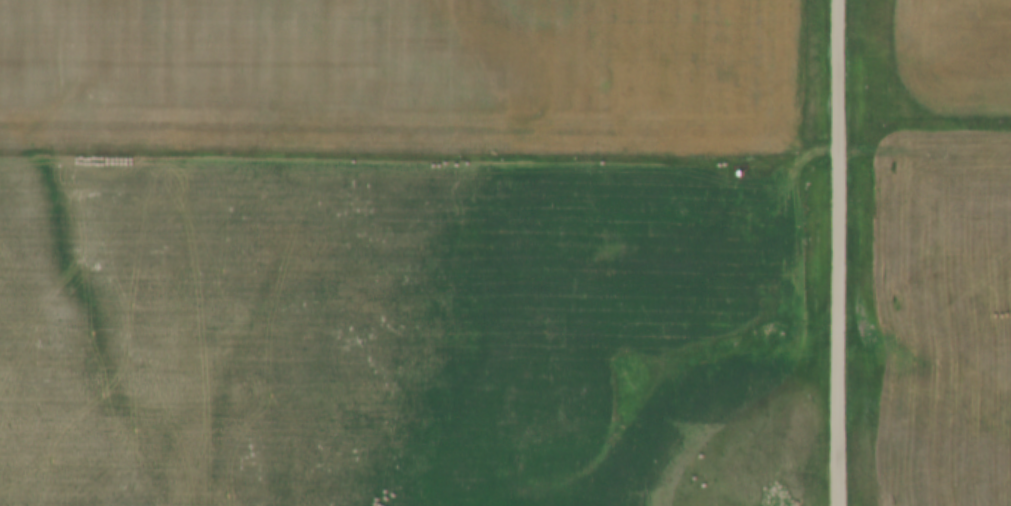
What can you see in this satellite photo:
road: (838, 253)

